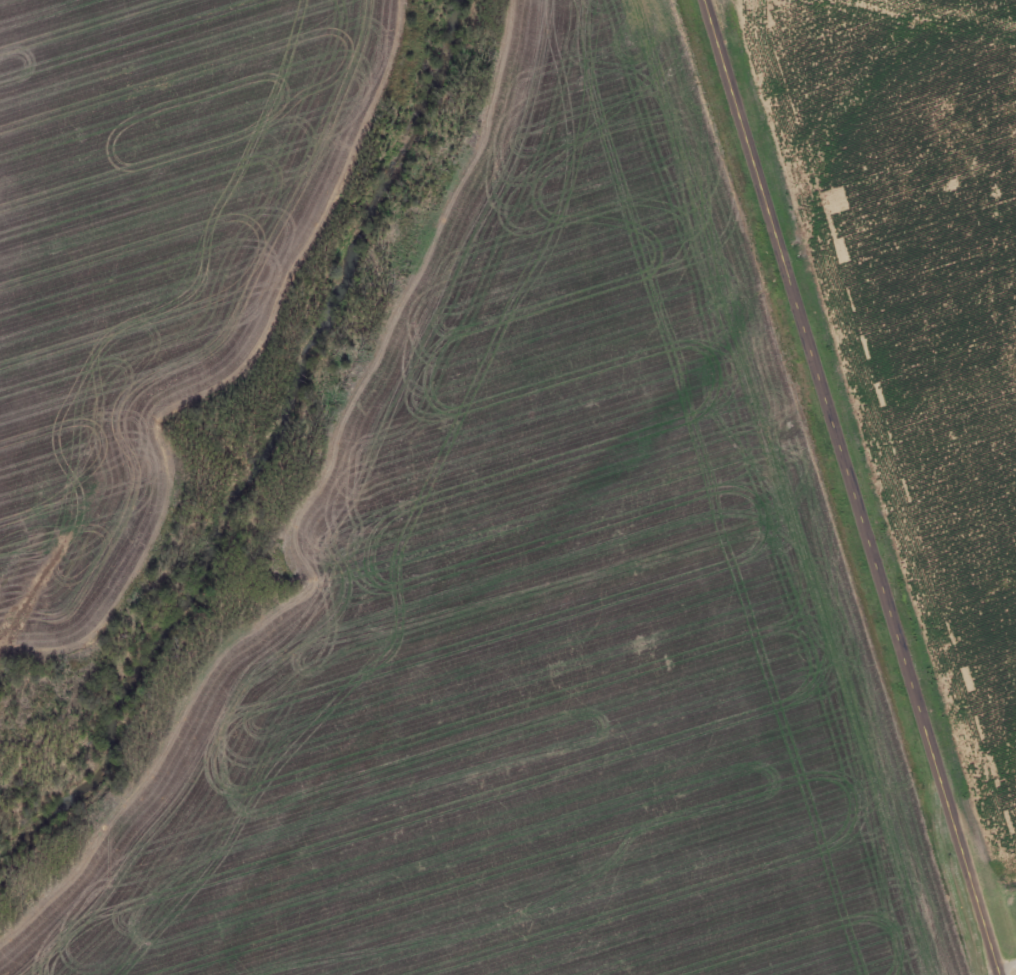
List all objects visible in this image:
road: (857, 487)

